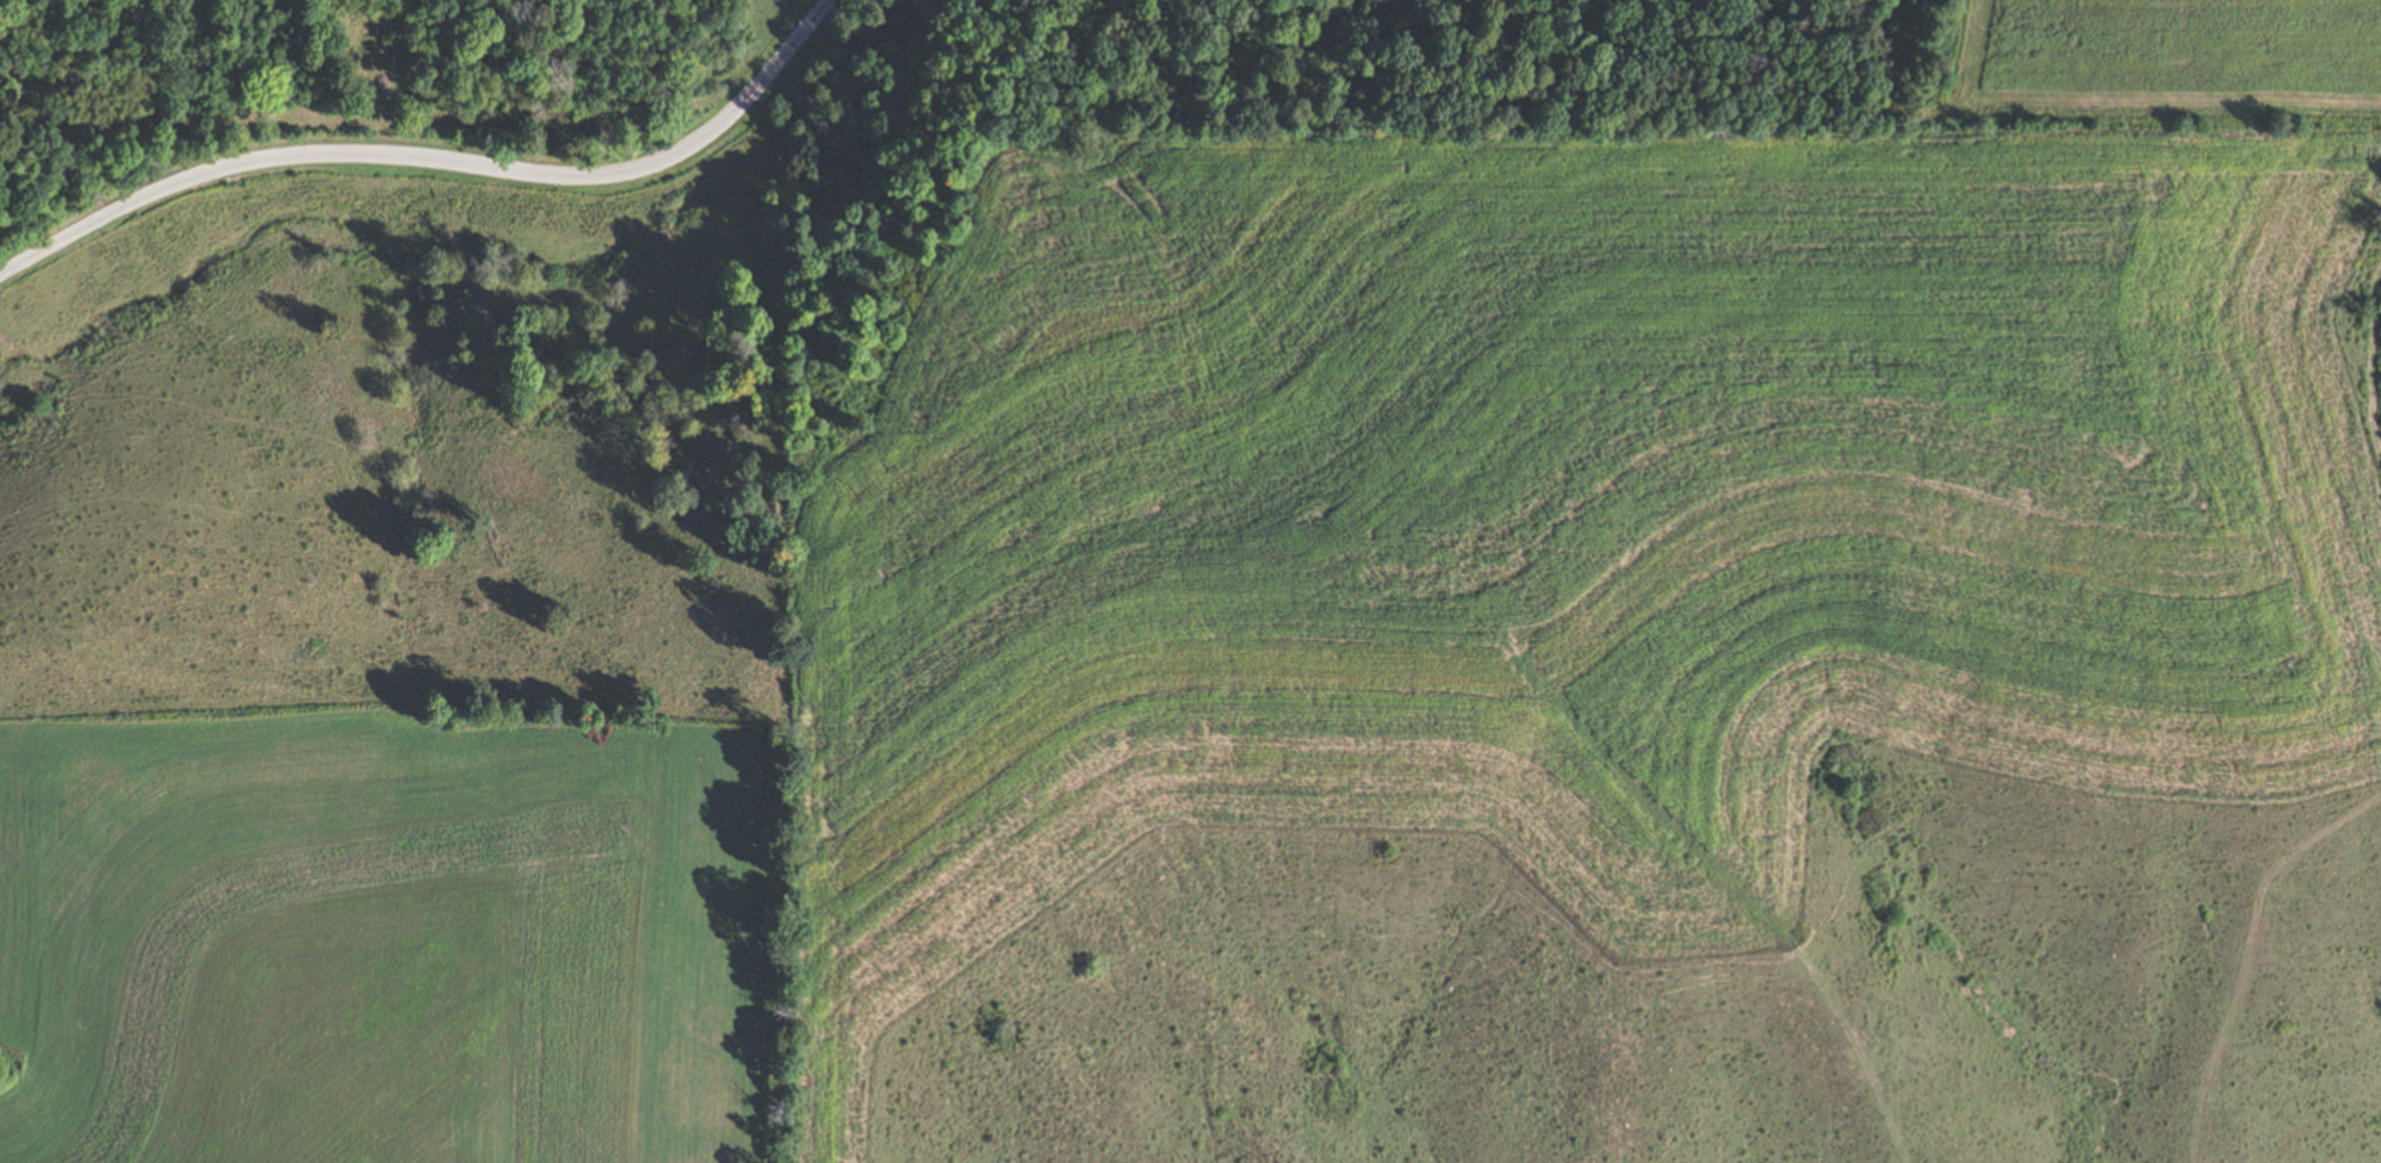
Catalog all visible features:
crop: (798, 5)
crop: (2168, 57)
road: (438, 161)
crop: (391, 946)

